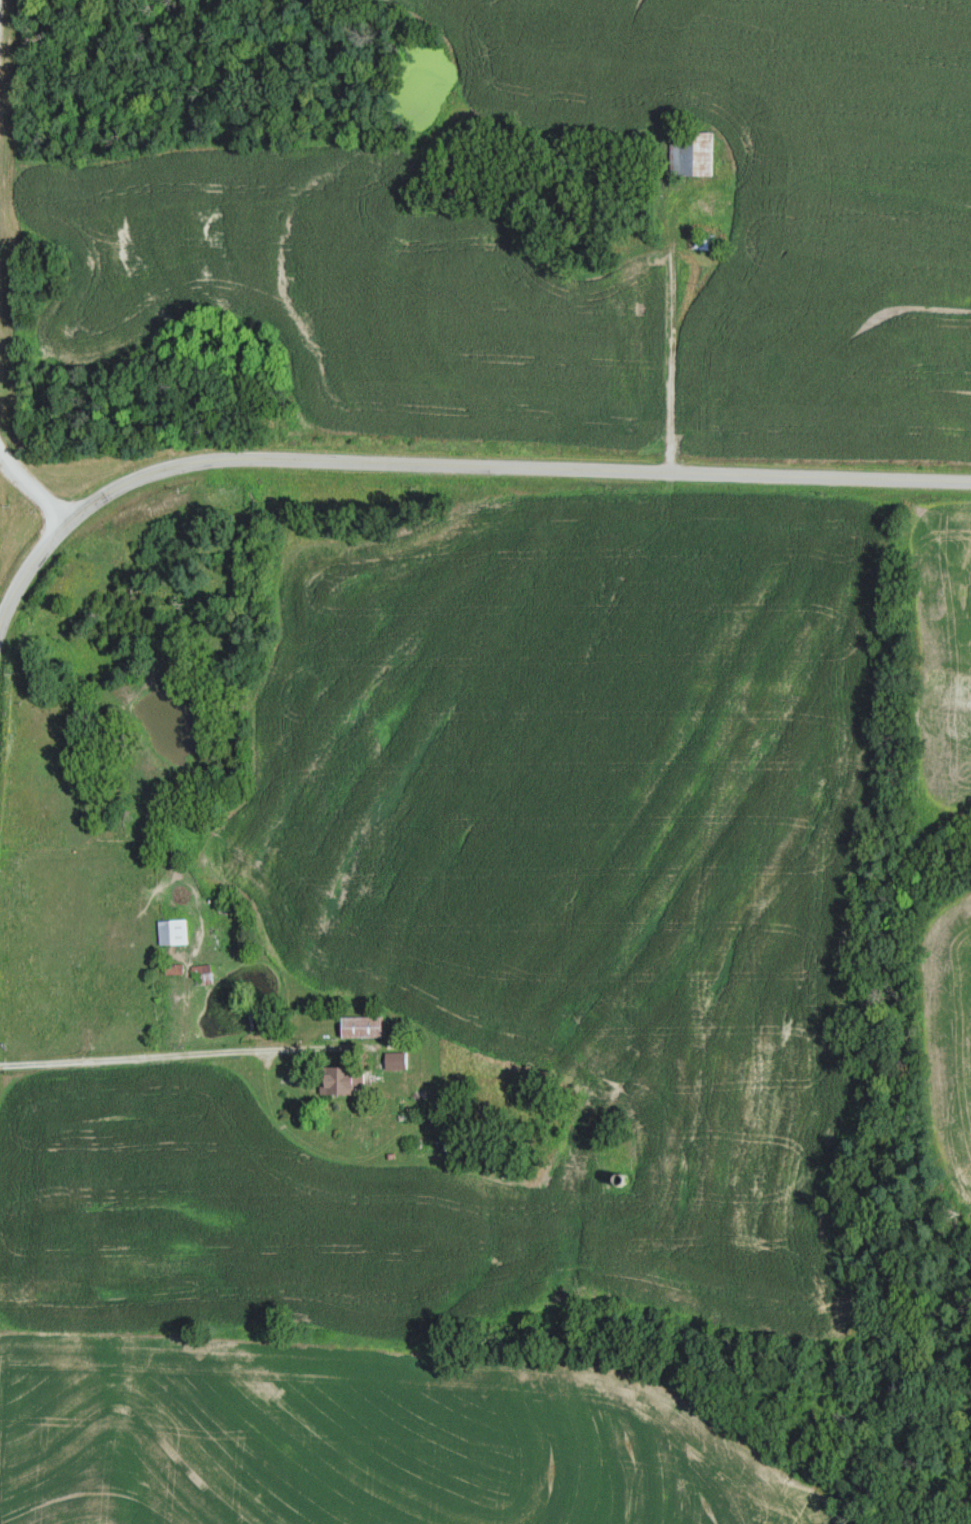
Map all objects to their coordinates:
building: (692, 153)
building: (634, 293)
road: (453, 462)
road: (31, 490)
building: (173, 932)
building: (202, 975)
building: (362, 1027)
road: (163, 1055)
building: (395, 1061)
building: (339, 1081)

